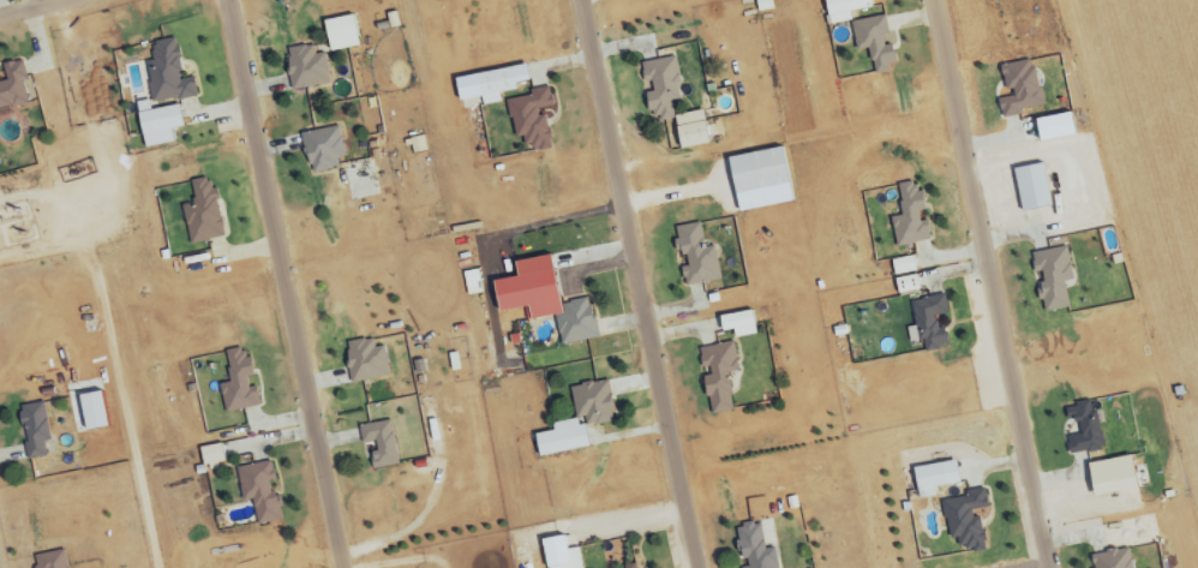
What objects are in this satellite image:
road: (26, 7)
building: (841, 10)
building: (340, 34)
building: (873, 41)
building: (306, 67)
building: (167, 74)
building: (498, 83)
building: (12, 86)
building: (660, 86)
building: (1019, 89)
building: (531, 118)
building: (156, 124)
building: (1053, 126)
building: (689, 130)
building: (323, 149)
building: (759, 179)
building: (1030, 187)
building: (203, 214)
building: (909, 216)
building: (696, 256)
building: (902, 265)
building: (1052, 276)
road: (287, 283)
road: (637, 283)
road: (992, 283)
building: (906, 285)
building: (544, 299)
building: (928, 321)
building: (737, 323)
building: (365, 360)
building: (718, 376)
building: (238, 383)
building: (592, 403)
building: (34, 430)
building: (1084, 430)
building: (561, 438)
building: (379, 444)
building: (210, 455)
building: (1083, 466)
building: (1110, 477)
building: (933, 478)
building: (258, 491)
building: (965, 519)
building: (754, 548)
building: (558, 554)
building: (50, 560)
building: (1113, 560)
building: (628, 567)

